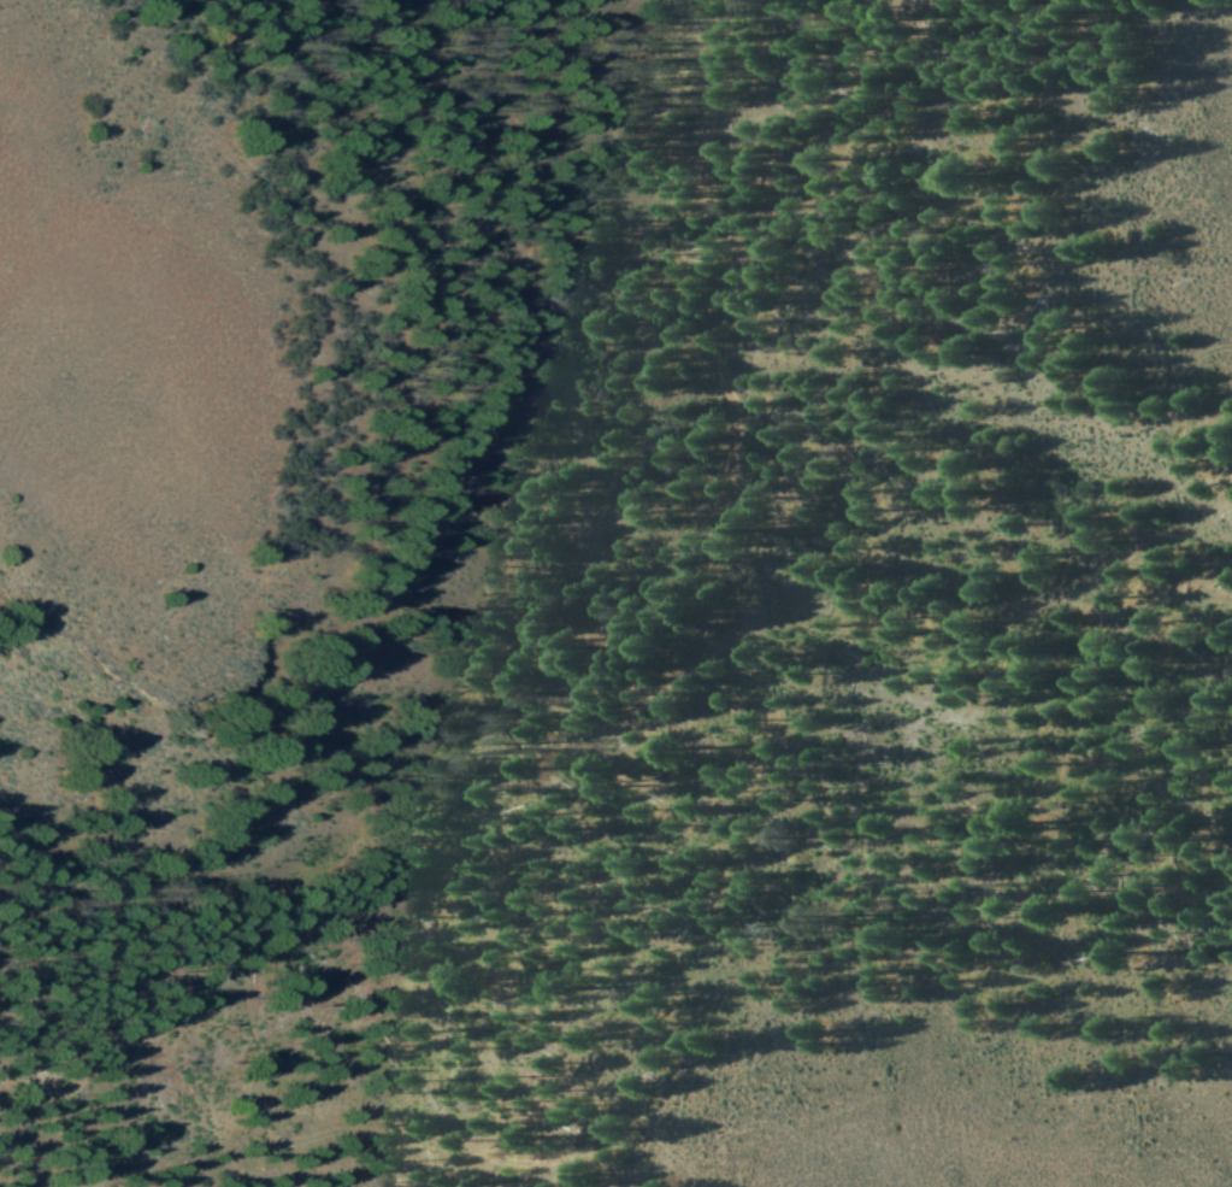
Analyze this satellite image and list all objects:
road: (502, 631)

